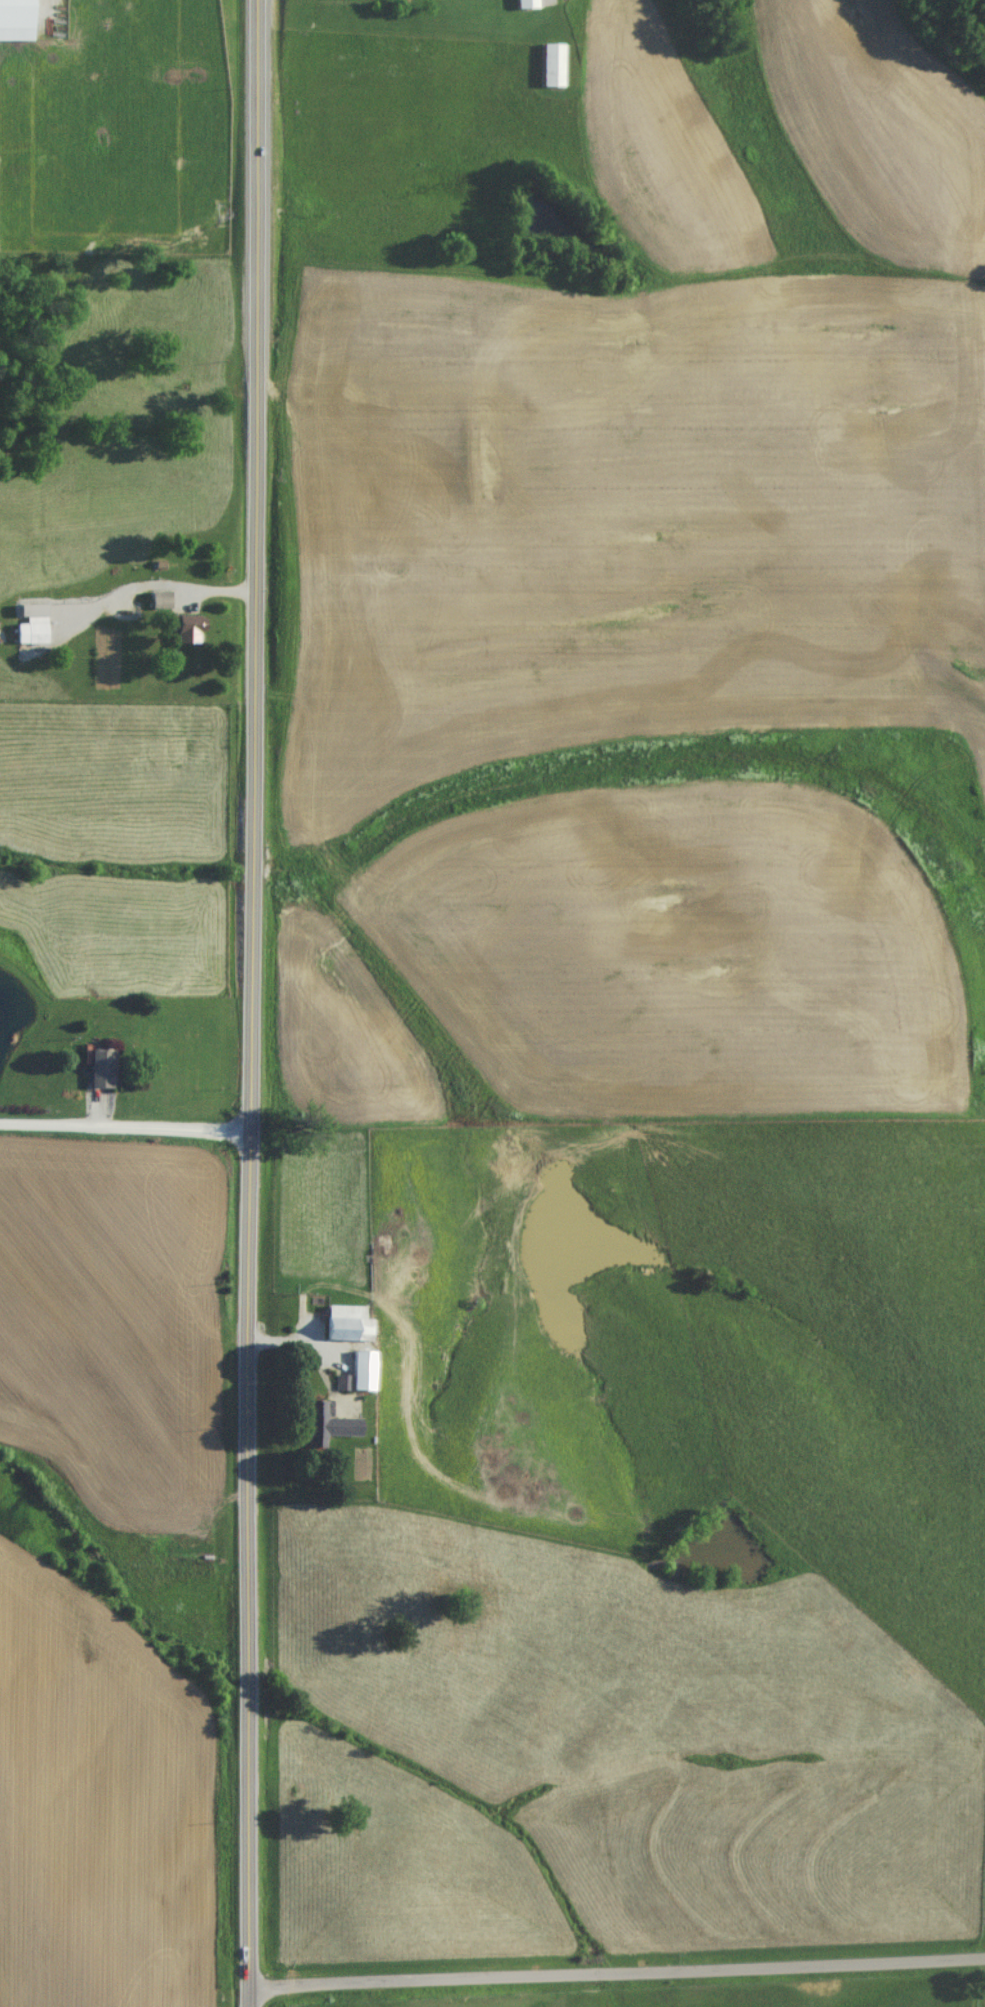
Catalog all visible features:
building: (523, 7)
building: (14, 23)
building: (548, 70)
road: (155, 587)
building: (157, 606)
building: (29, 634)
building: (184, 635)
road: (254, 1003)
building: (95, 1074)
road: (126, 1122)
building: (342, 1328)
building: (359, 1374)
building: (321, 1430)
park: (982, 1864)
road: (617, 1968)

